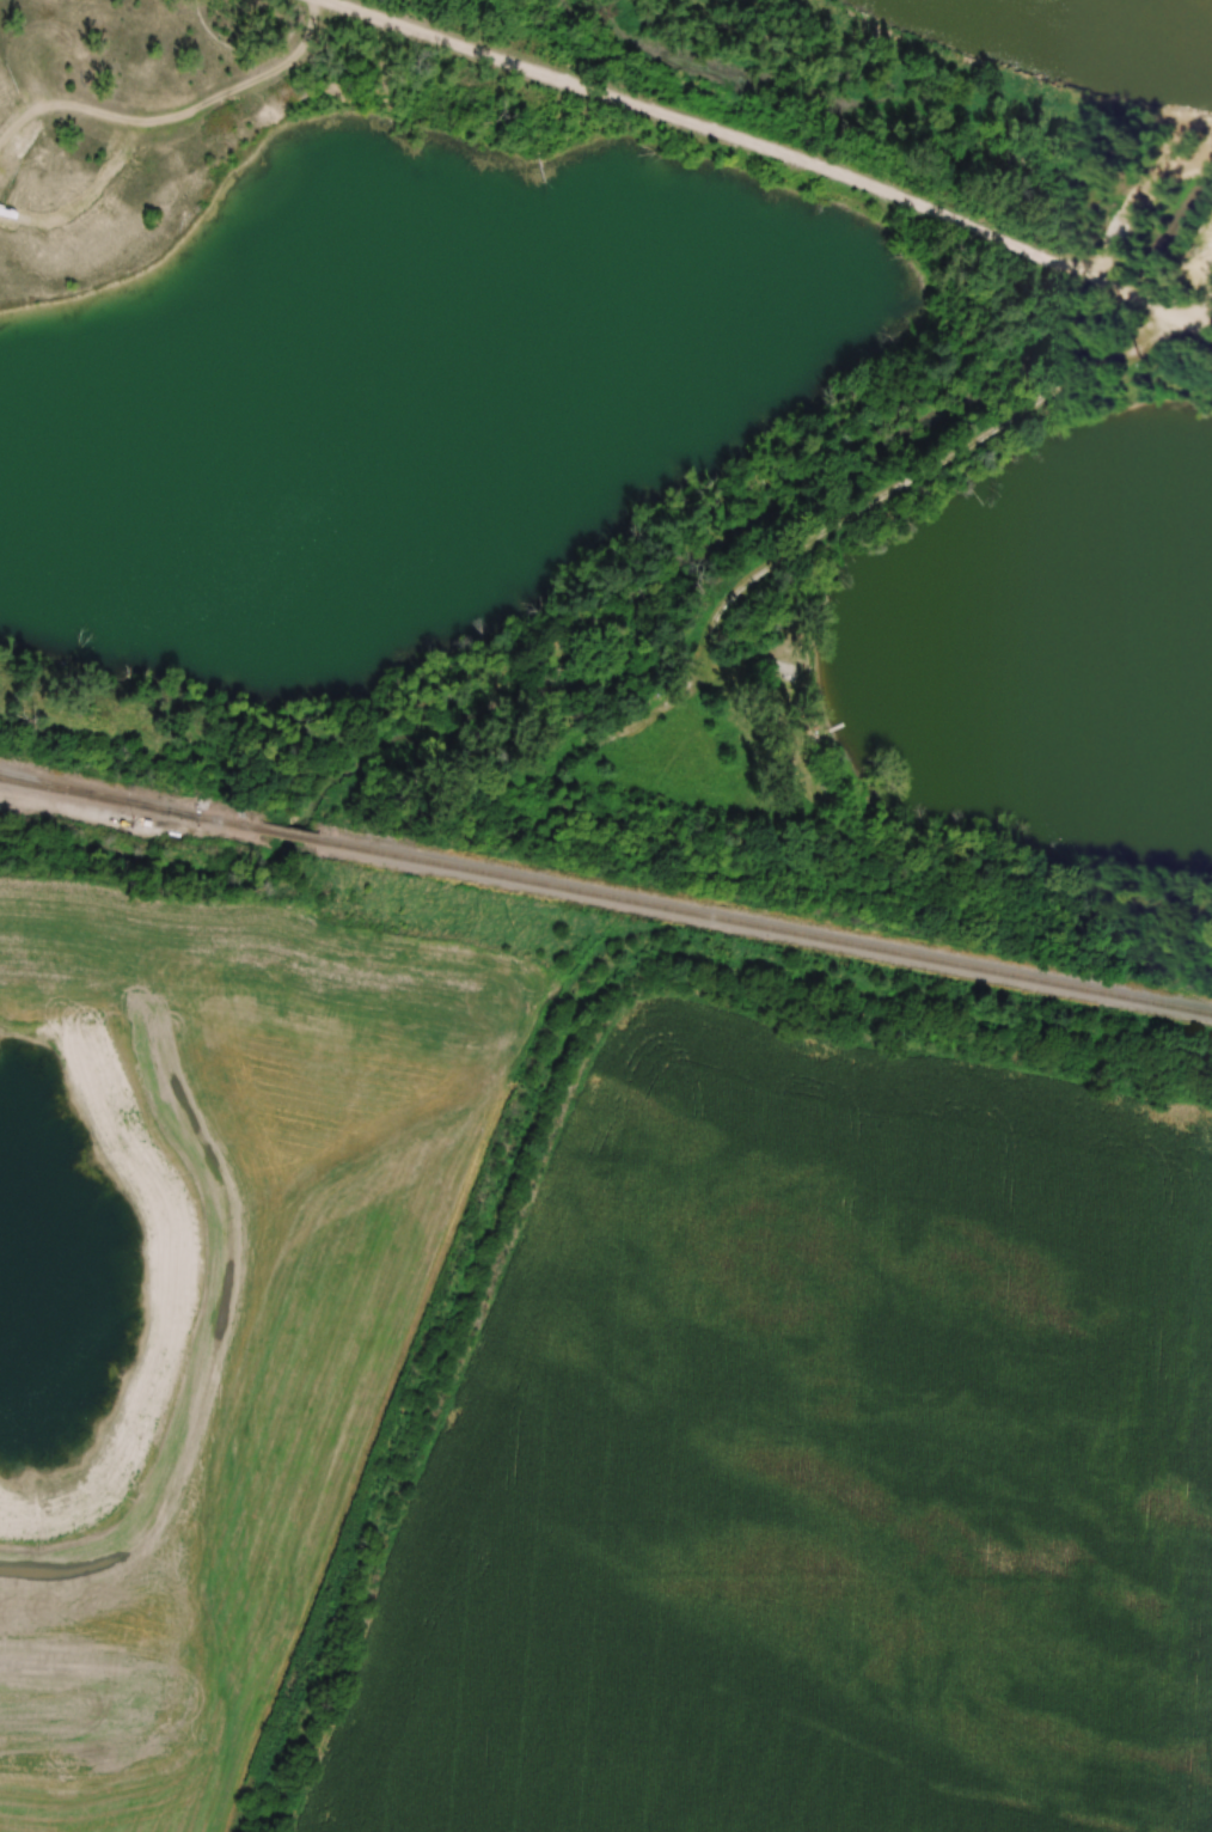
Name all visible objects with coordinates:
road: (176, 115)
road: (773, 149)
road: (1200, 312)
road: (1200, 330)
road: (913, 480)
building: (616, 719)
railway: (54, 784)
railway: (54, 787)
railway: (184, 813)
railway: (289, 833)
railway: (765, 926)

